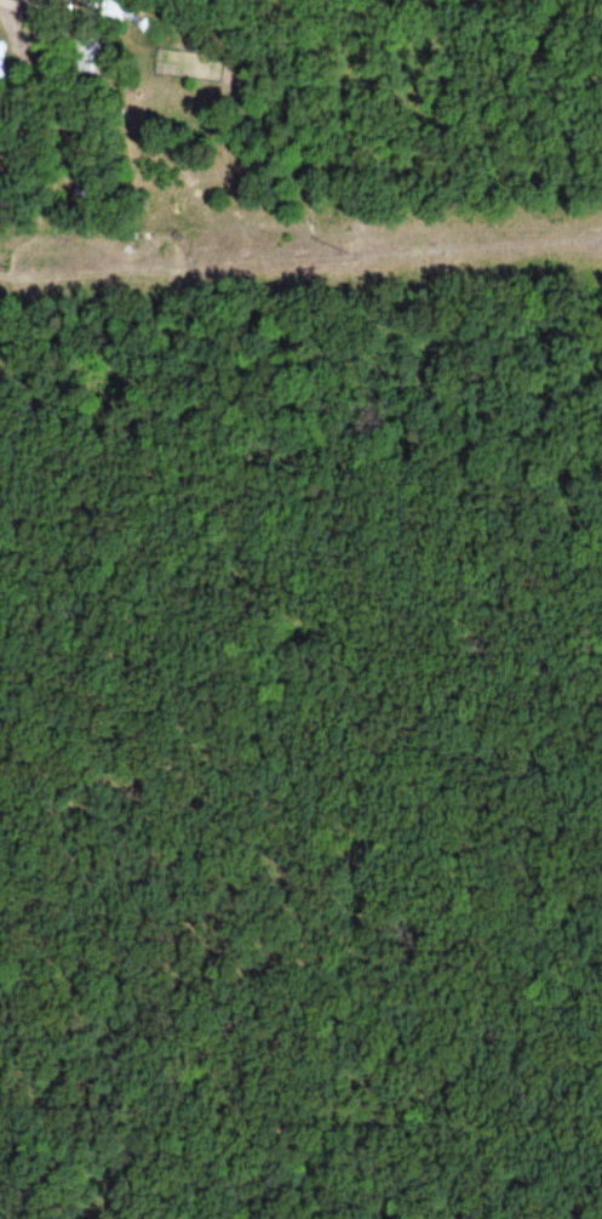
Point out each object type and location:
road: (153, 786)

